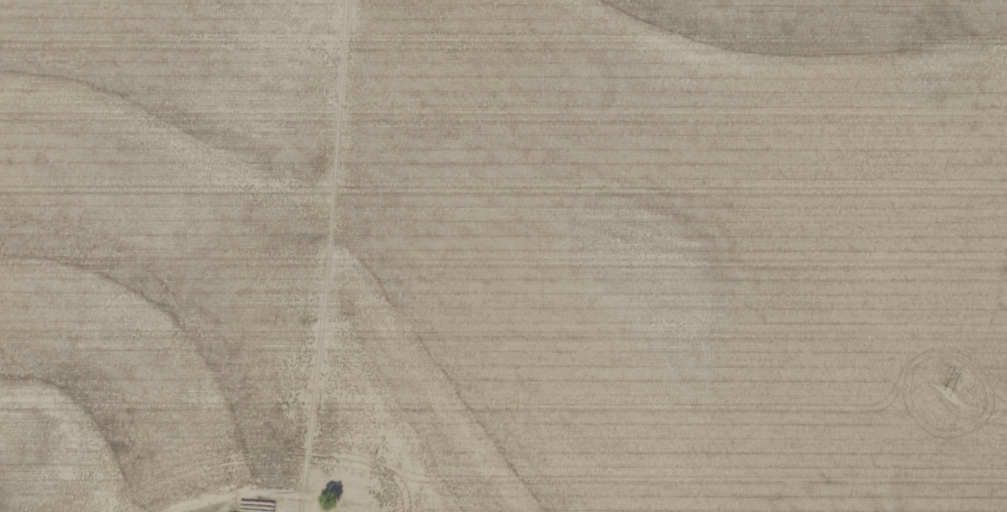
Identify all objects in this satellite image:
power tower: (957, 400)

